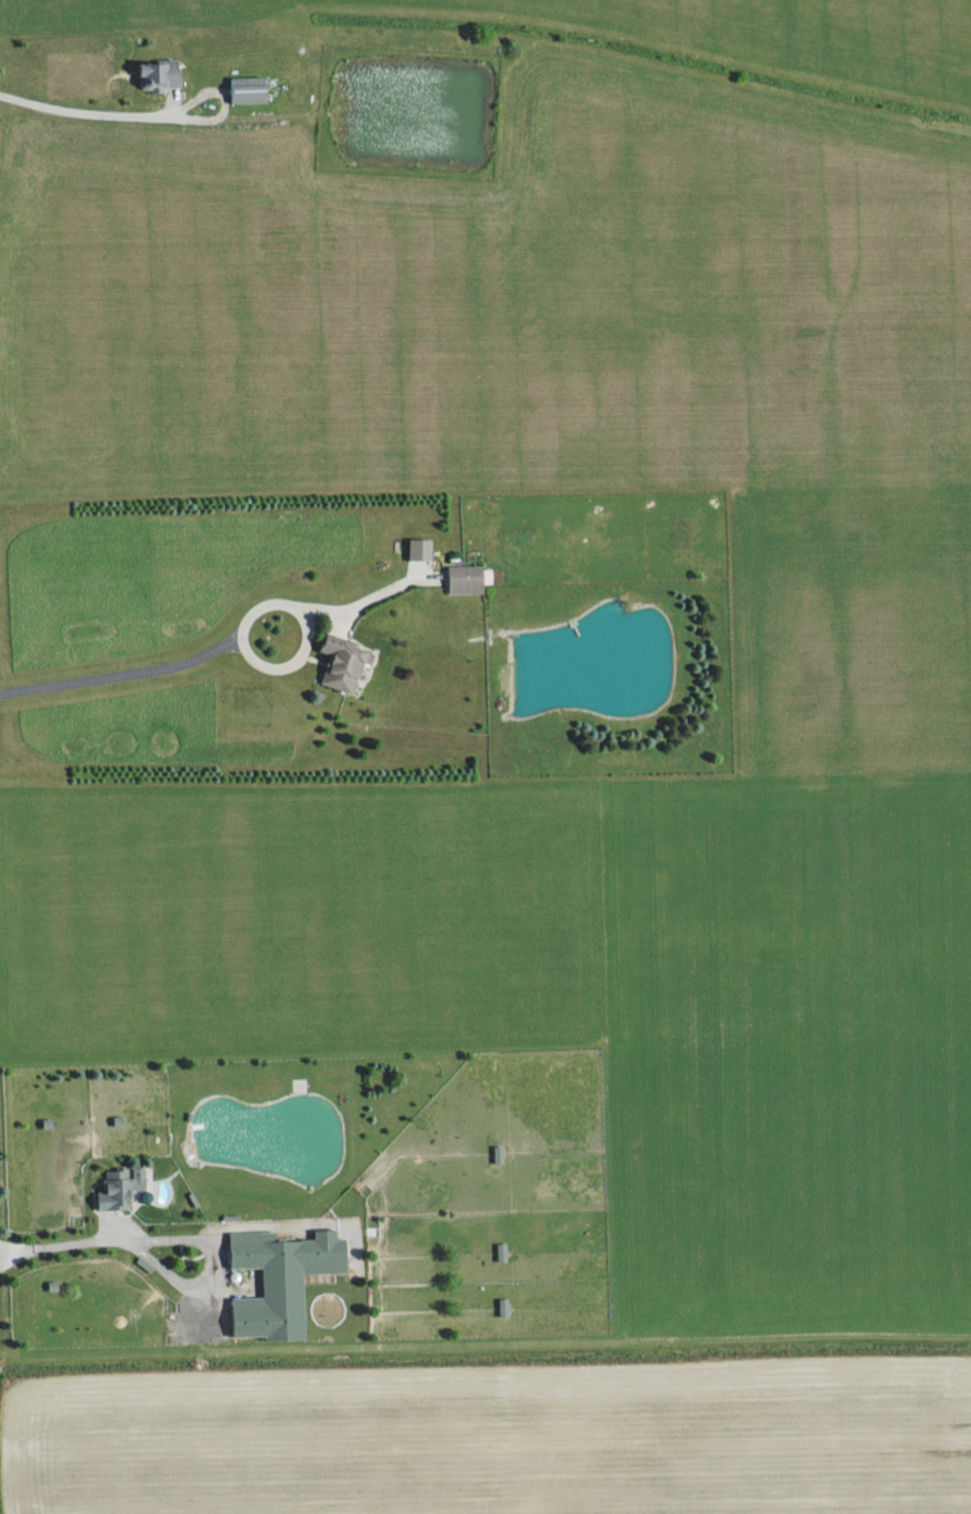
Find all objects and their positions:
building: (156, 75)
building: (244, 90)
road: (85, 110)
building: (417, 549)
building: (464, 579)
building: (340, 663)
road: (119, 671)
building: (495, 1155)
building: (117, 1188)
road: (58, 1229)
road: (201, 1253)
building: (278, 1281)
crop: (503, 1440)

